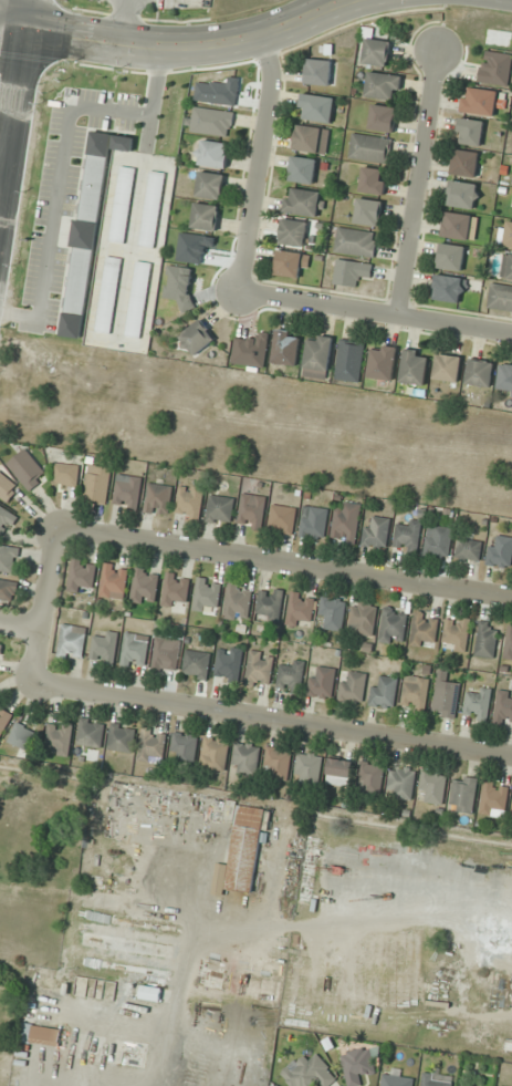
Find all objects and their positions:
road: (12, 14)
road: (6, 29)
traffic signals: (11, 30)
road: (188, 50)
building: (377, 52)
building: (320, 72)
building: (383, 85)
road: (12, 87)
building: (481, 101)
building: (316, 107)
building: (383, 117)
building: (211, 122)
building: (470, 132)
building: (312, 139)
building: (123, 143)
building: (370, 148)
building: (212, 154)
building: (466, 163)
road: (259, 165)
building: (303, 169)
building: (374, 180)
road: (417, 182)
building: (210, 185)
building: (463, 194)
building: (304, 201)
building: (123, 205)
building: (153, 208)
building: (368, 211)
building: (206, 216)
building: (458, 226)
building: (293, 231)
building: (509, 235)
building: (356, 242)
building: (451, 257)
building: (291, 262)
building: (506, 267)
building: (351, 271)
building: (449, 288)
building: (108, 294)
building: (500, 297)
building: (138, 299)
road: (376, 313)
building: (197, 338)
building: (286, 348)
building: (318, 356)
building: (349, 361)
building: (383, 362)
building: (415, 366)
building: (447, 368)
building: (480, 372)
building: (505, 380)
building: (27, 469)
building: (66, 474)
building: (97, 484)
building: (7, 487)
building: (127, 492)
building: (158, 498)
building: (190, 500)
building: (220, 509)
building: (252, 510)
building: (6, 515)
building: (283, 519)
building: (346, 521)
building: (314, 523)
building: (376, 531)
building: (408, 536)
building: (439, 541)
building: (470, 549)
building: (500, 551)
building: (9, 558)
road: (285, 567)
building: (82, 576)
building: (114, 581)
building: (144, 586)
building: (8, 590)
building: (175, 592)
building: (207, 593)
building: (238, 602)
building: (270, 603)
road: (45, 608)
building: (301, 609)
building: (333, 612)
building: (363, 618)
building: (394, 625)
road: (21, 628)
building: (425, 630)
building: (456, 633)
building: (487, 640)
building: (72, 642)
building: (509, 643)
building: (105, 648)
building: (0, 651)
building: (135, 651)
building: (167, 654)
building: (197, 664)
building: (229, 664)
building: (260, 670)
building: (291, 676)
building: (321, 683)
building: (352, 687)
building: (384, 691)
building: (415, 693)
building: (447, 697)
building: (478, 705)
building: (503, 710)
building: (3, 721)
road: (275, 721)
building: (92, 733)
building: (22, 736)
building: (122, 737)
building: (60, 738)
building: (153, 746)
building: (184, 747)
building: (215, 754)
building: (247, 757)
building: (279, 762)
building: (309, 767)
building: (339, 773)
building: (370, 777)
building: (401, 783)
building: (432, 787)
building: (462, 794)
building: (494, 798)
building: (192, 826)
building: (150, 993)
building: (41, 1034)
building: (359, 1064)
building: (309, 1072)
building: (395, 1078)
building: (436, 1080)
building: (462, 1085)
building: (511, 1085)

